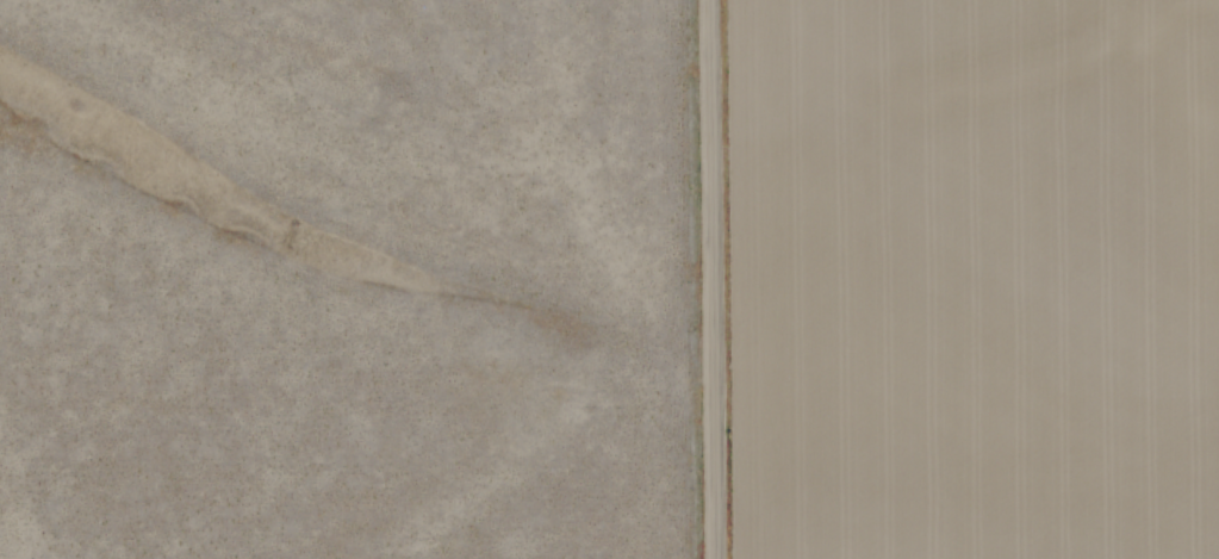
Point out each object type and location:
crop: (987, 278)
road: (705, 279)

